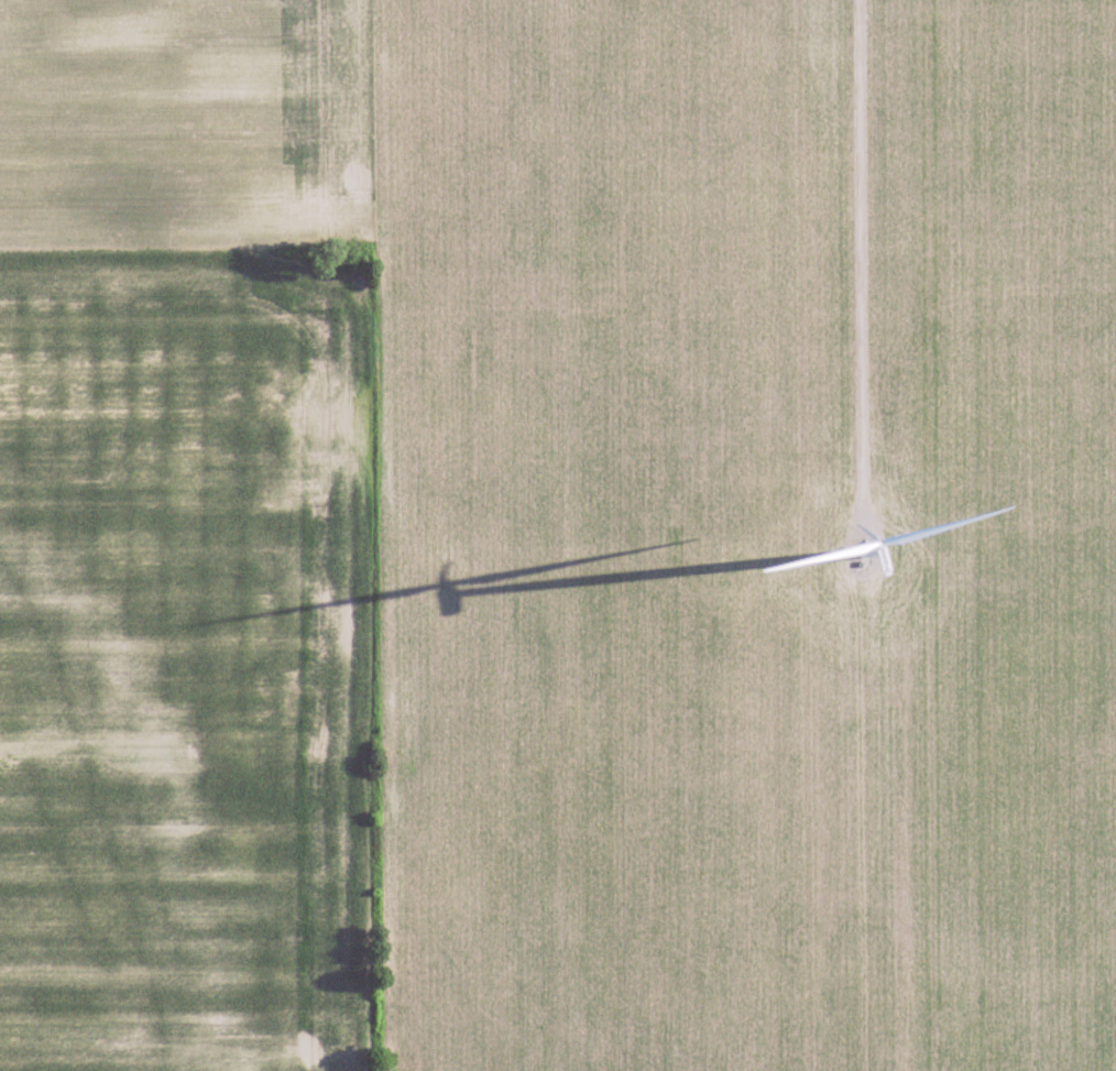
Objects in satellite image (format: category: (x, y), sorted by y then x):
road: (842, 242)
wind turbine: (876, 603)

